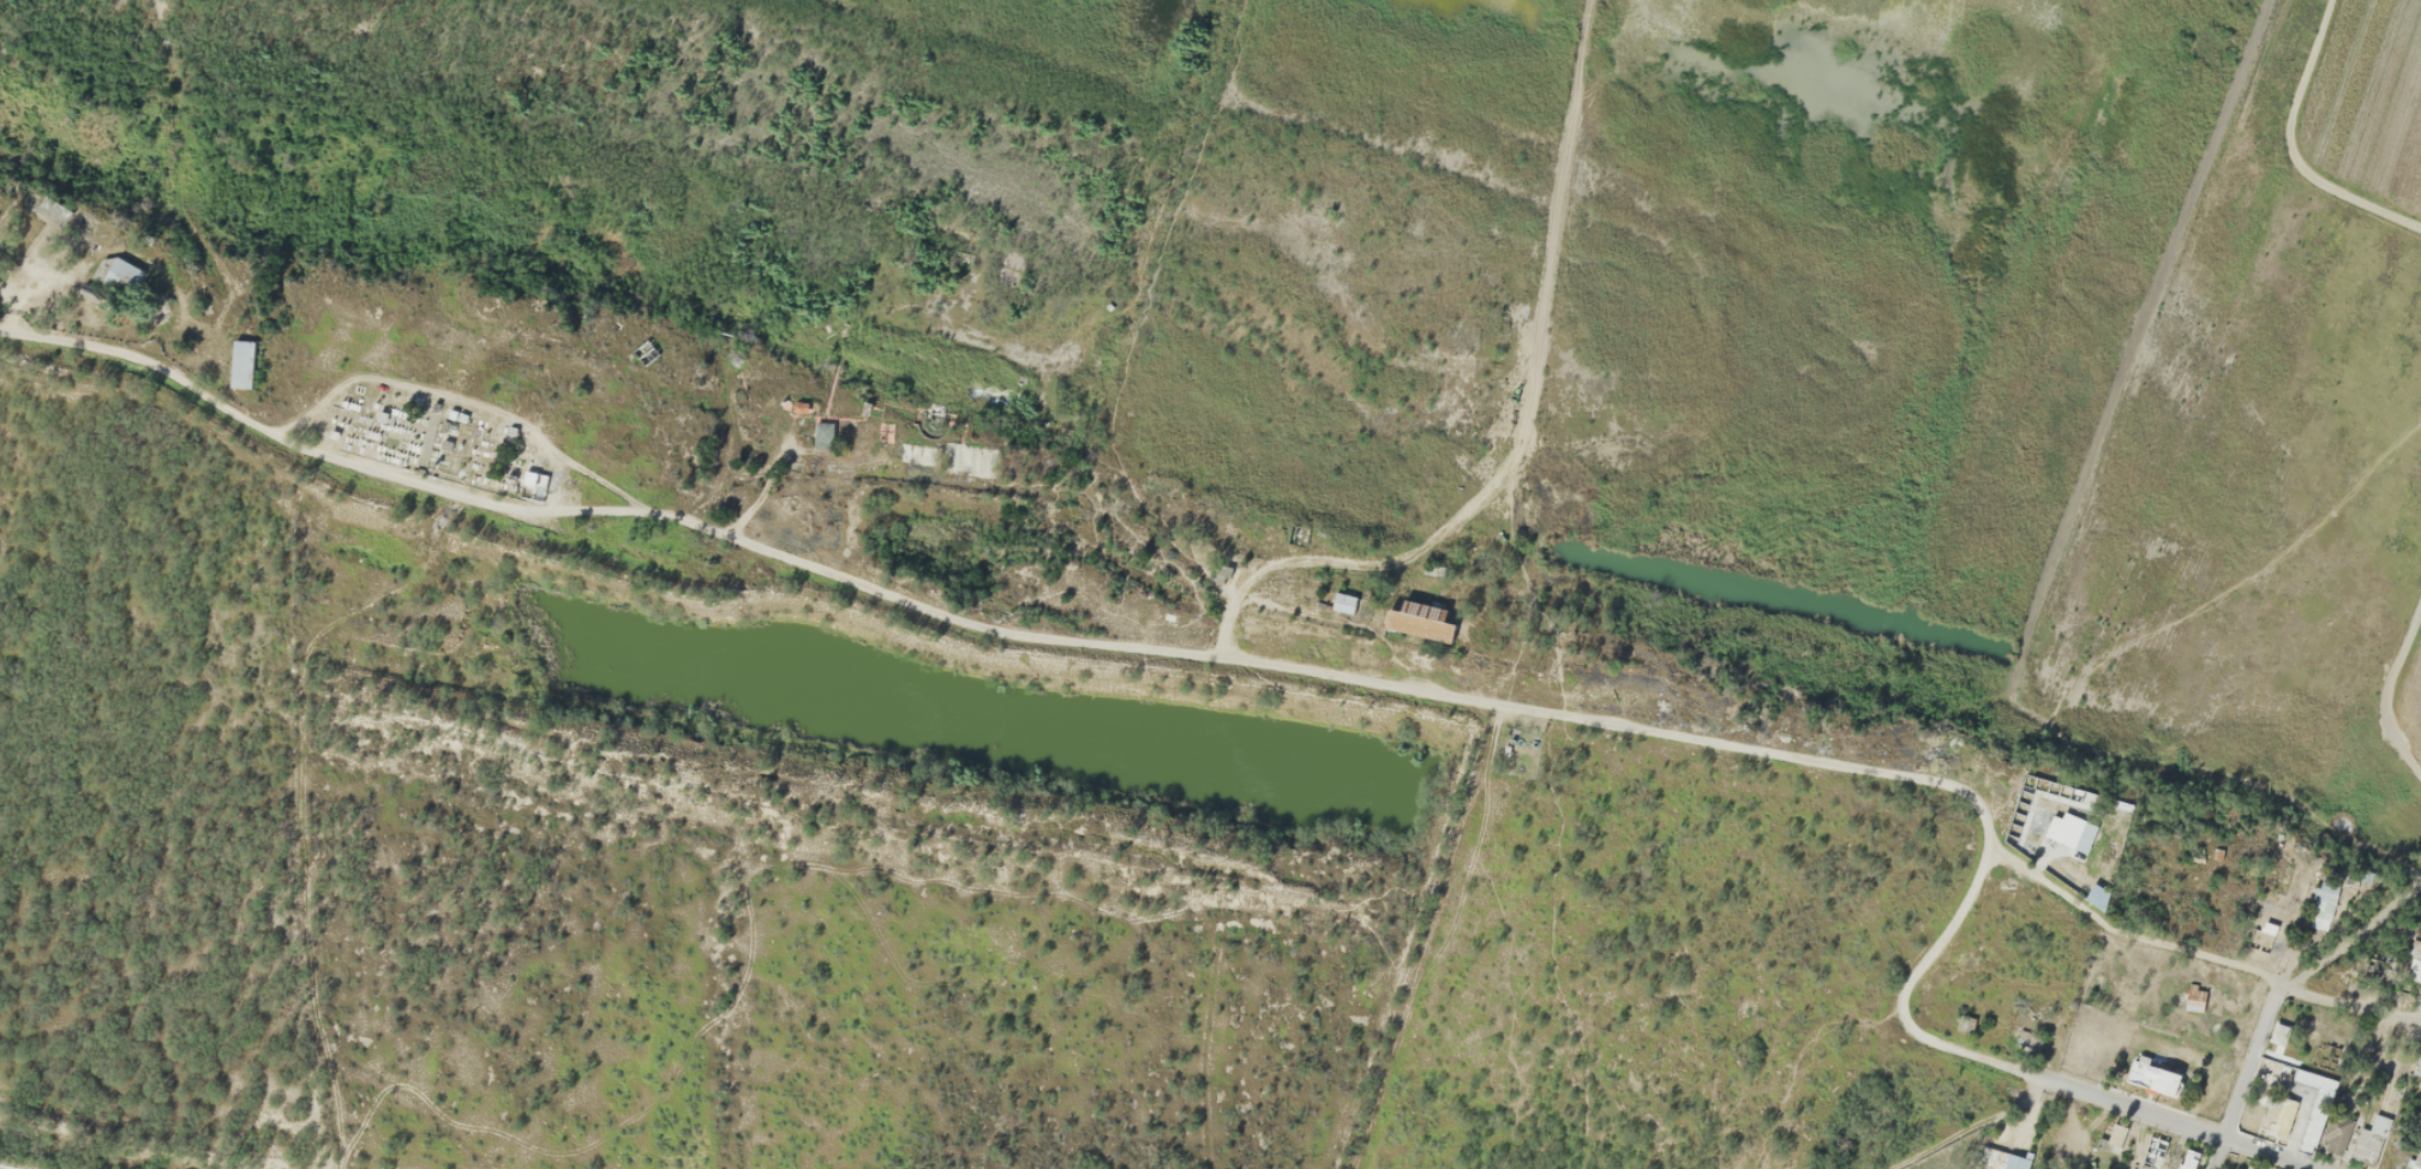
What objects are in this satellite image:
road: (2288, 151)
park: (427, 433)
road: (592, 474)
road: (972, 625)
road: (2384, 691)
road: (1983, 826)
road: (1941, 936)
road: (2354, 937)
road: (2192, 957)
road: (2246, 1075)
road: (2104, 1102)
road: (1970, 1129)

